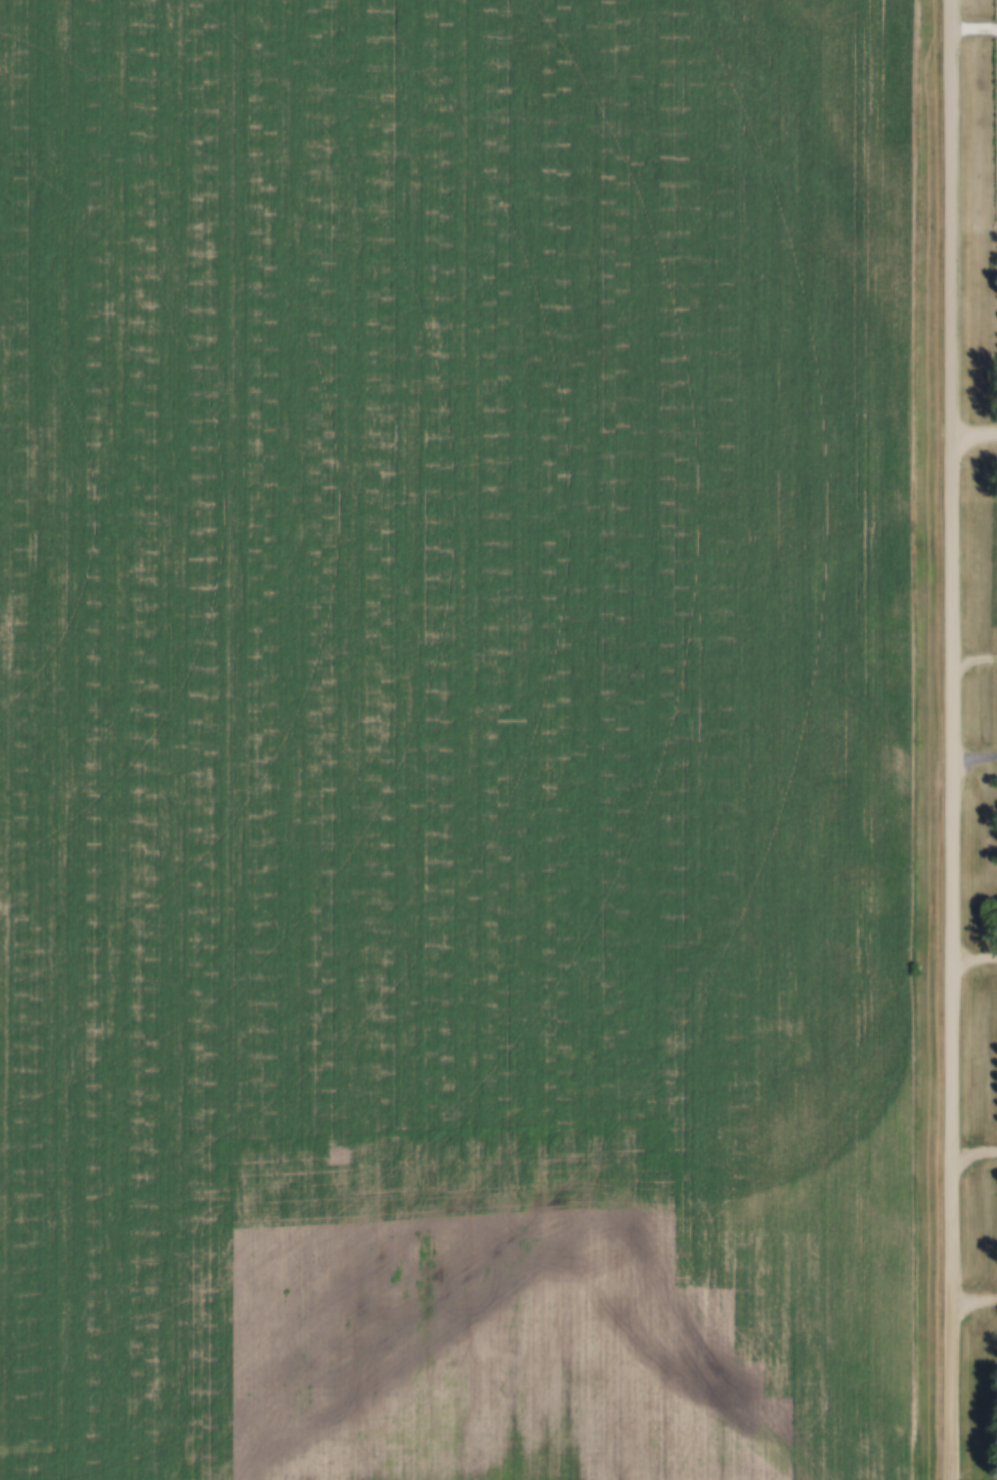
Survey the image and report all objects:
road: (976, 27)
road: (977, 433)
road: (976, 658)
road: (957, 740)
road: (977, 757)
road: (977, 955)
road: (976, 1150)
road: (977, 1302)

